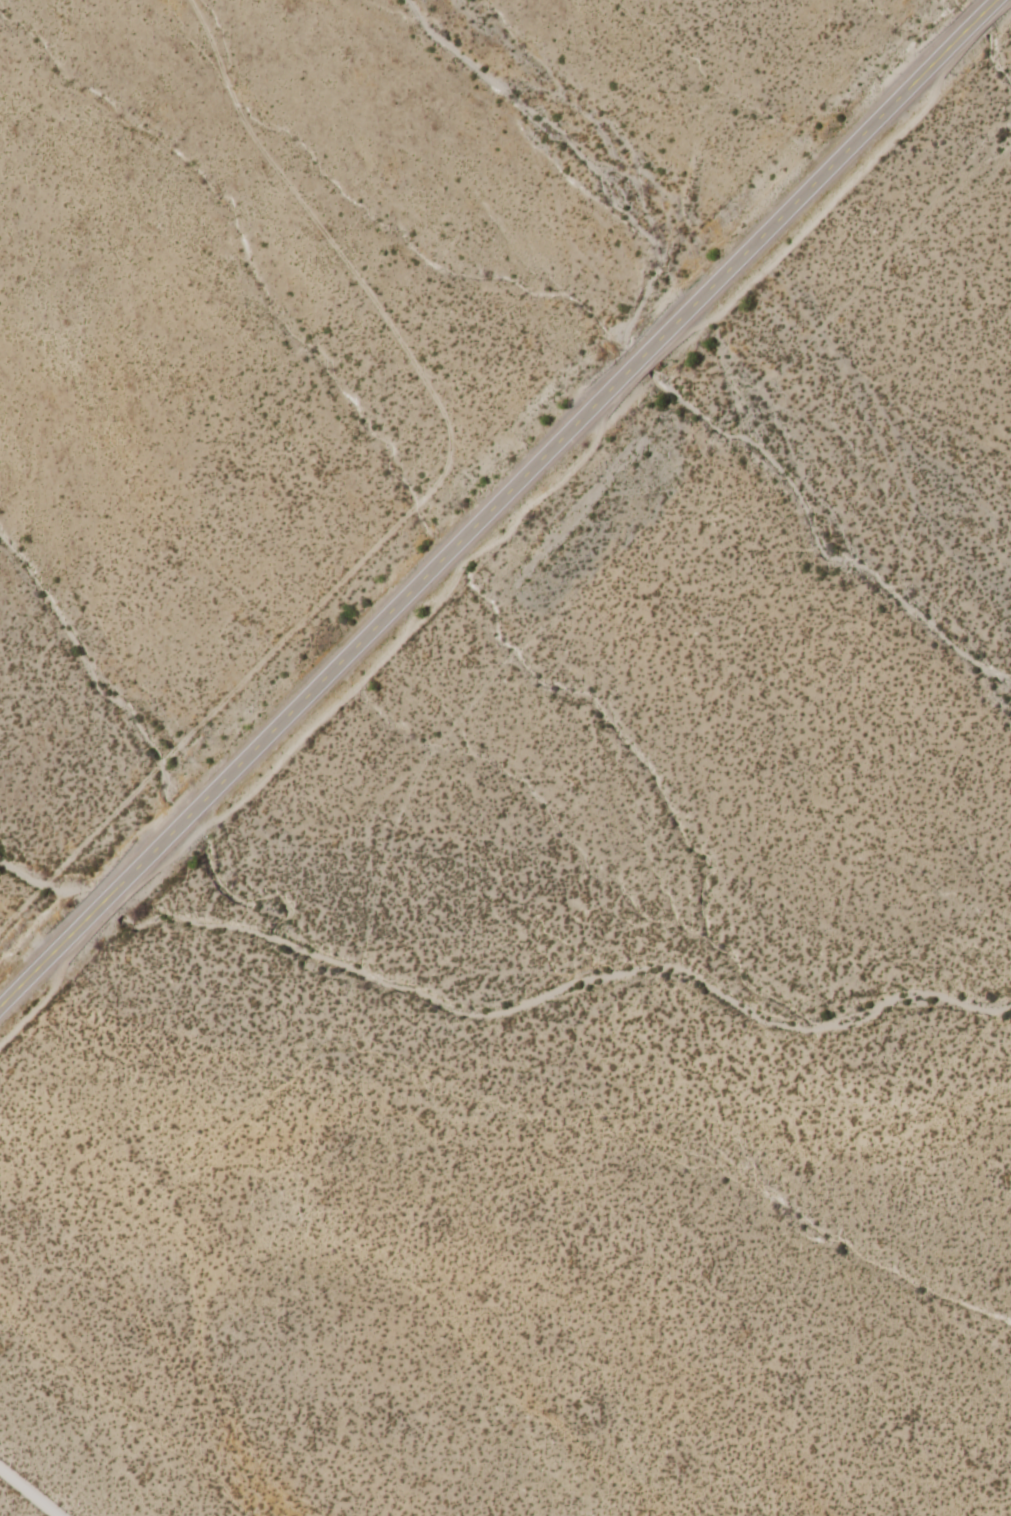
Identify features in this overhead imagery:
road: (495, 500)
road: (414, 506)
road: (30, 1491)

